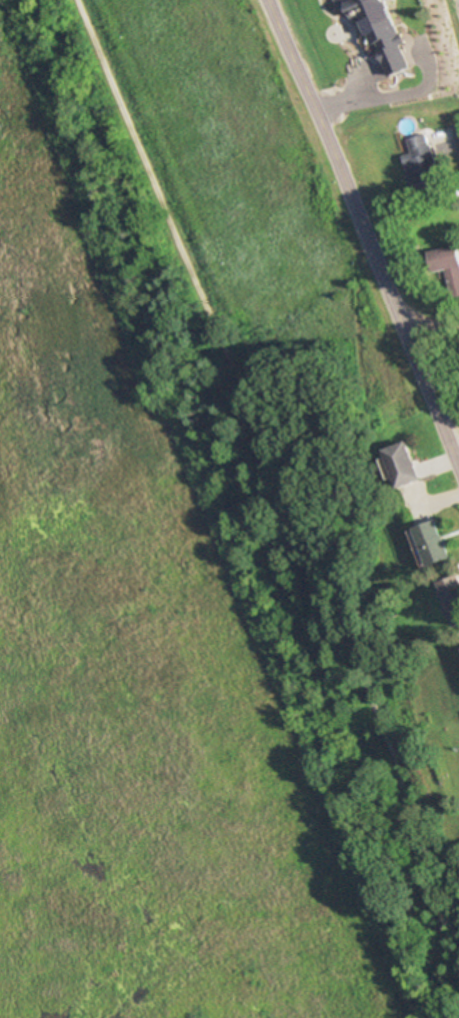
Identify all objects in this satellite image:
building: (405, 49)
building: (424, 166)
road: (365, 233)
building: (447, 264)
building: (406, 464)
road: (276, 487)
building: (437, 543)
building: (453, 595)

